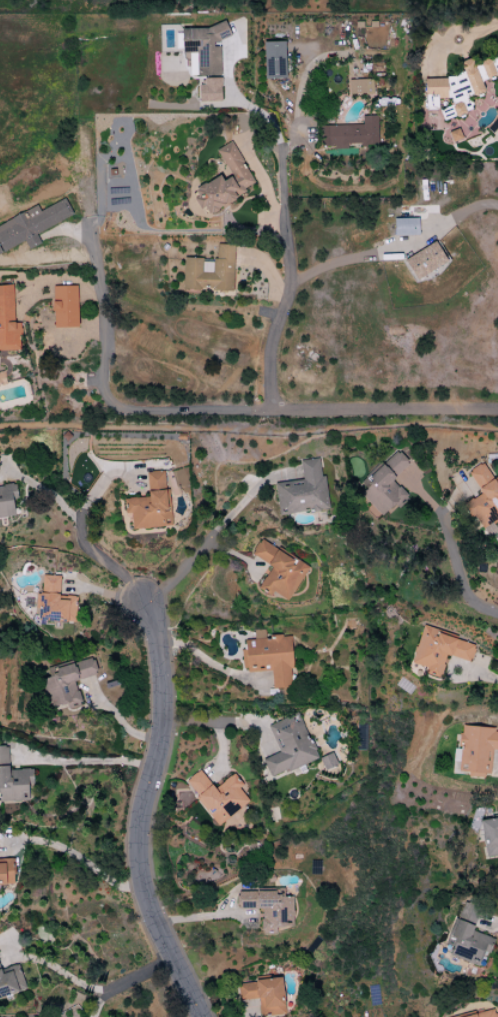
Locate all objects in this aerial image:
road: (454, 32)
building: (205, 59)
building: (273, 60)
building: (459, 86)
building: (359, 87)
road: (248, 109)
building: (349, 134)
building: (454, 135)
building: (224, 182)
building: (31, 224)
building: (405, 227)
road: (395, 246)
building: (424, 260)
building: (209, 271)
road: (289, 283)
building: (64, 306)
road: (103, 318)
building: (7, 321)
road: (248, 413)
building: (383, 485)
road: (94, 488)
building: (301, 490)
road: (49, 496)
building: (7, 500)
building: (483, 500)
building: (149, 504)
road: (201, 544)
road: (109, 565)
road: (456, 565)
building: (278, 571)
road: (108, 593)
building: (53, 602)
building: (438, 650)
building: (269, 657)
road: (208, 662)
road: (481, 674)
building: (67, 683)
road: (117, 719)
road: (211, 720)
building: (288, 746)
building: (475, 748)
road: (496, 757)
building: (13, 781)
building: (216, 796)
road: (142, 817)
building: (489, 837)
road: (76, 857)
building: (6, 871)
building: (268, 908)
road: (203, 916)
building: (467, 937)
building: (10, 980)
road: (92, 989)
building: (263, 995)
building: (481, 1014)

